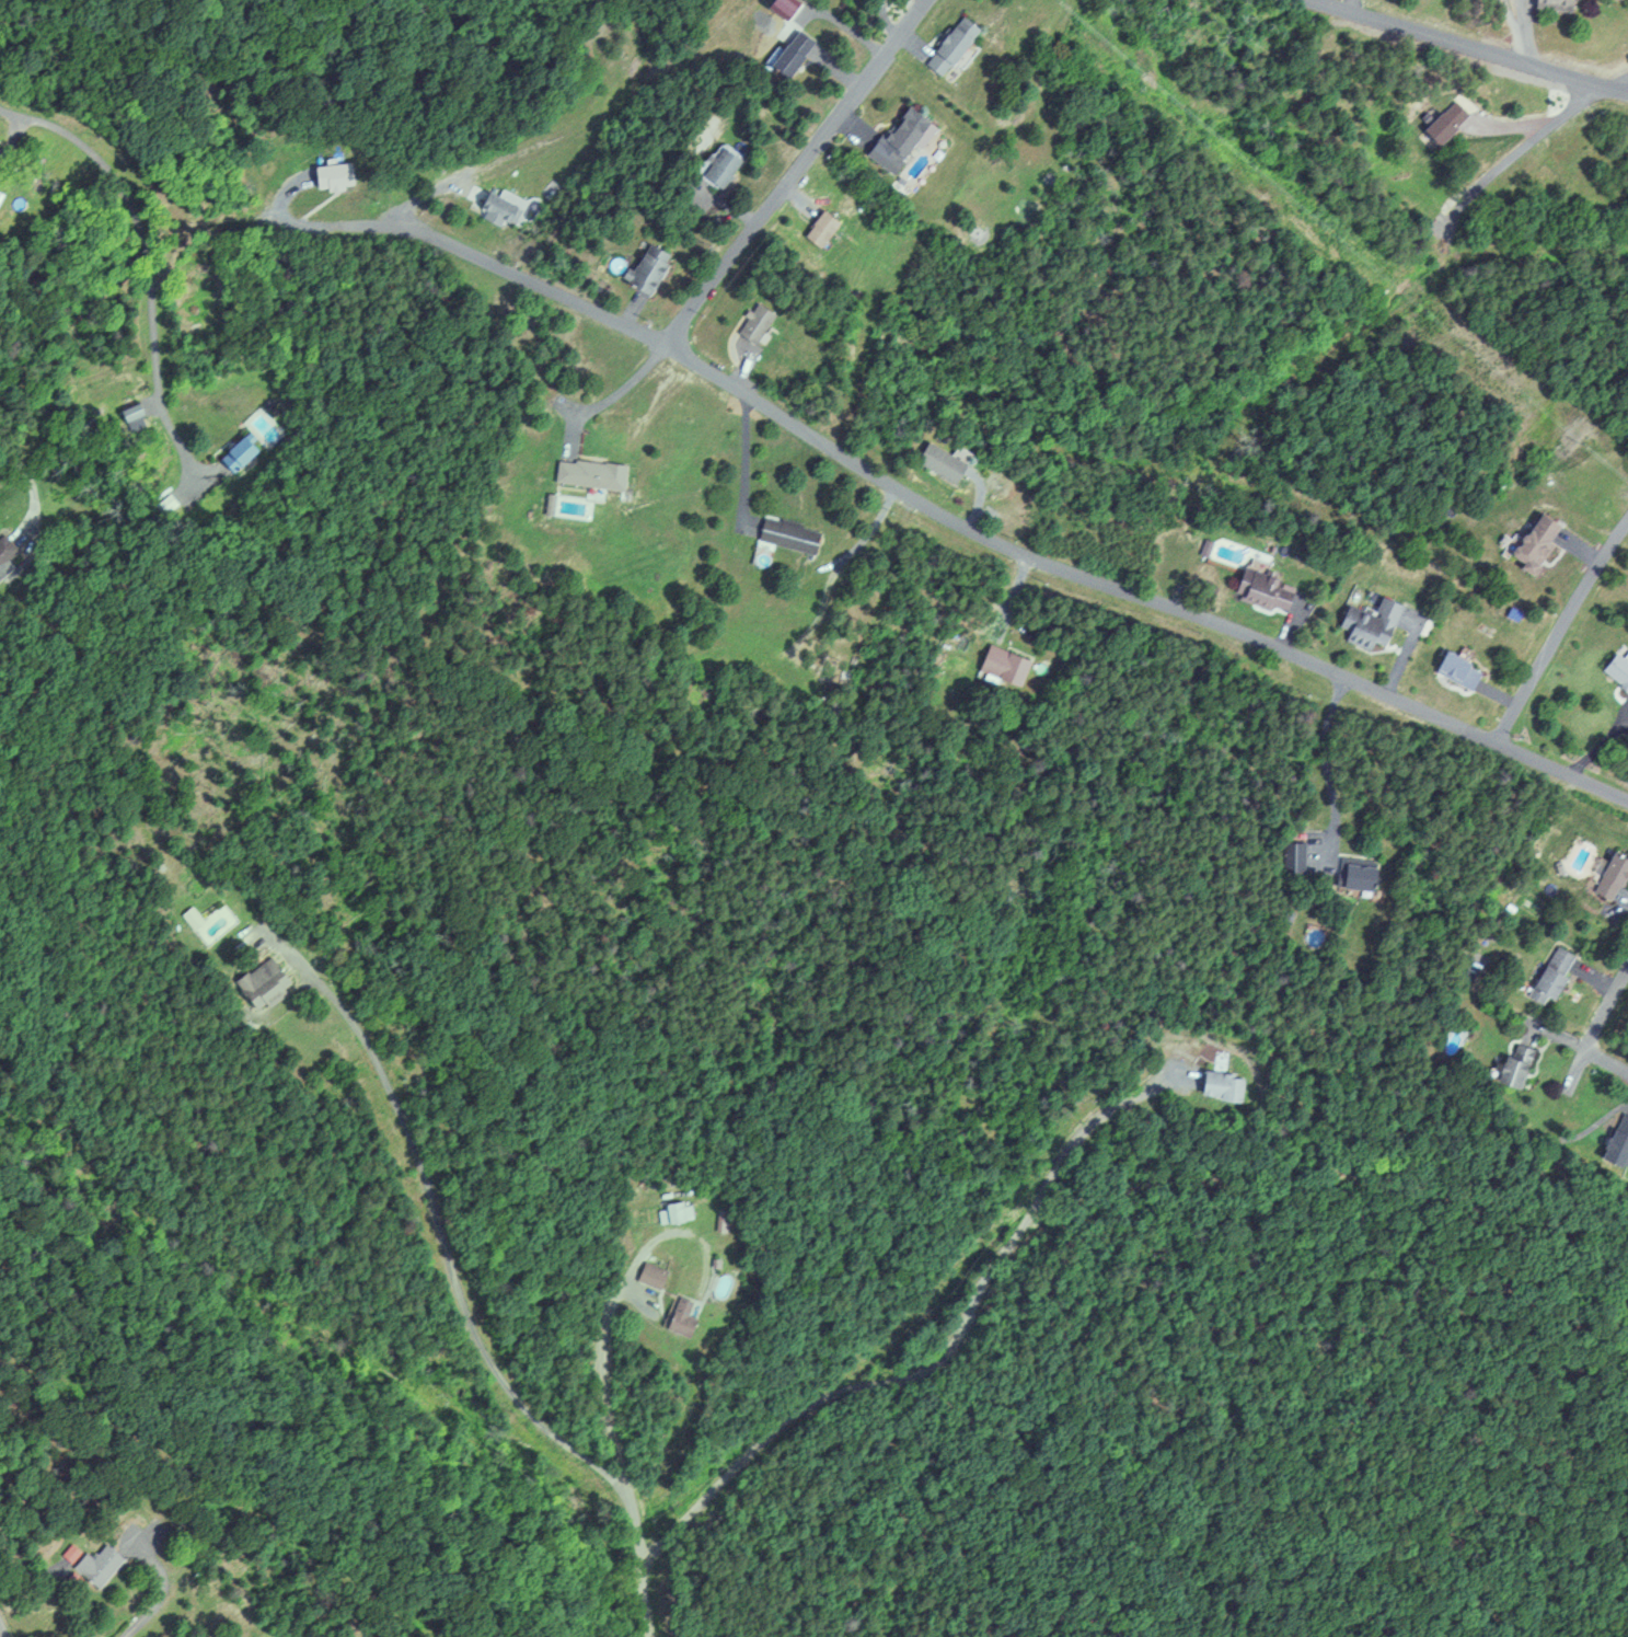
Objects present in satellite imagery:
building: (1550, 3)
building: (948, 45)
road: (1469, 45)
building: (788, 54)
road: (1619, 84)
building: (1442, 120)
building: (896, 135)
road: (1512, 152)
building: (717, 164)
road: (793, 171)
building: (501, 208)
building: (818, 228)
road: (148, 263)
building: (645, 269)
building: (751, 322)
building: (131, 419)
building: (236, 454)
building: (938, 462)
building: (588, 474)
road: (35, 496)
building: (785, 534)
road: (982, 535)
building: (1532, 542)
building: (2, 569)
building: (1262, 590)
building: (1367, 623)
road: (1556, 626)
building: (1001, 665)
building: (1454, 669)
building: (1616, 670)
building: (1292, 855)
building: (1610, 875)
building: (1352, 876)
building: (1548, 975)
building: (258, 983)
road: (1598, 1024)
road: (1558, 1036)
building: (1511, 1063)
building: (1220, 1083)
building: (1616, 1138)
building: (674, 1211)
road: (440, 1238)
building: (649, 1275)
road: (610, 1306)
building: (679, 1316)
road: (943, 1357)
building: (95, 1564)
road: (643, 1564)
road: (1, 1633)

